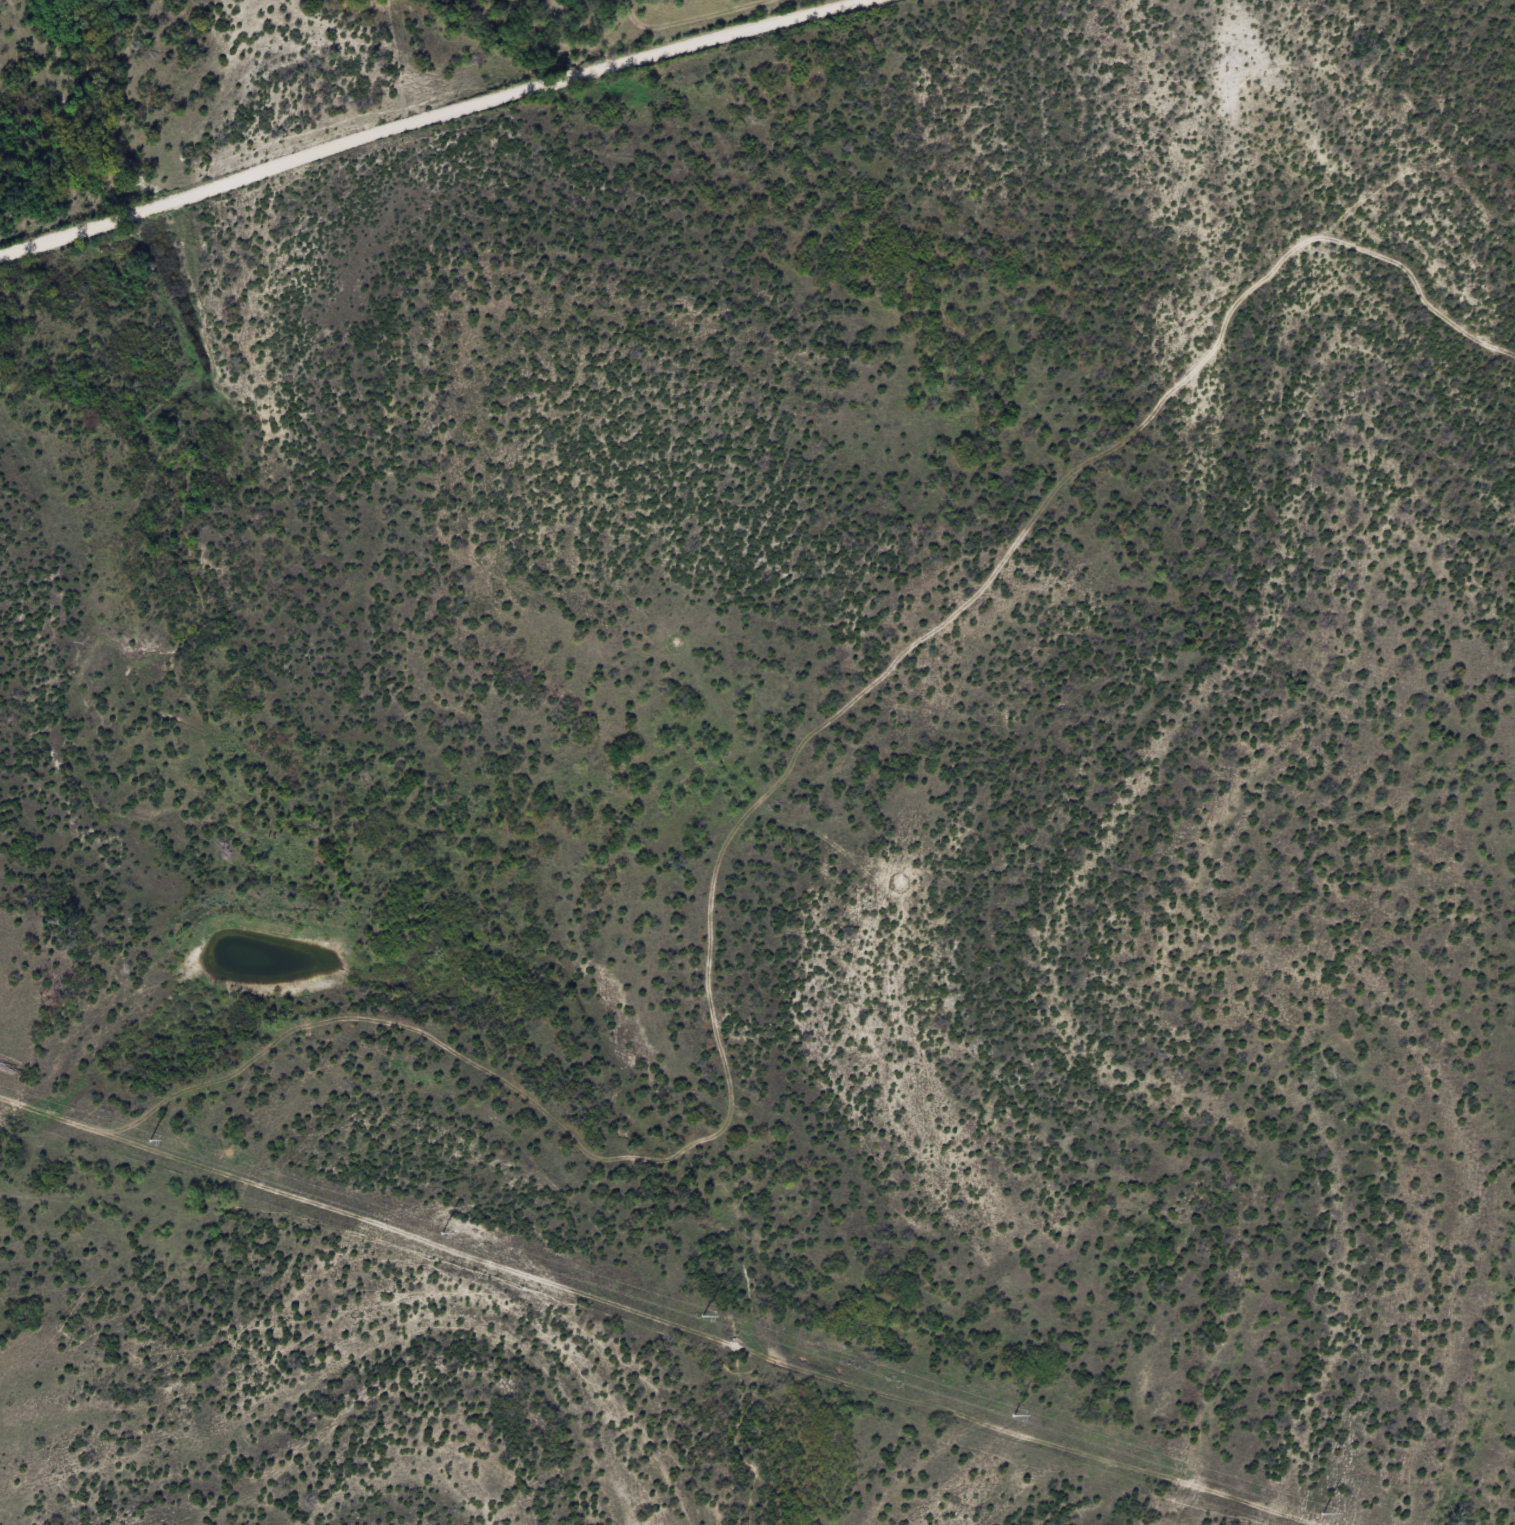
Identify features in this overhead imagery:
road: (415, 124)
power tower: (149, 1139)
power tower: (441, 1232)
power tower: (701, 1315)
power tower: (1013, 1415)
power tower: (1322, 1513)

